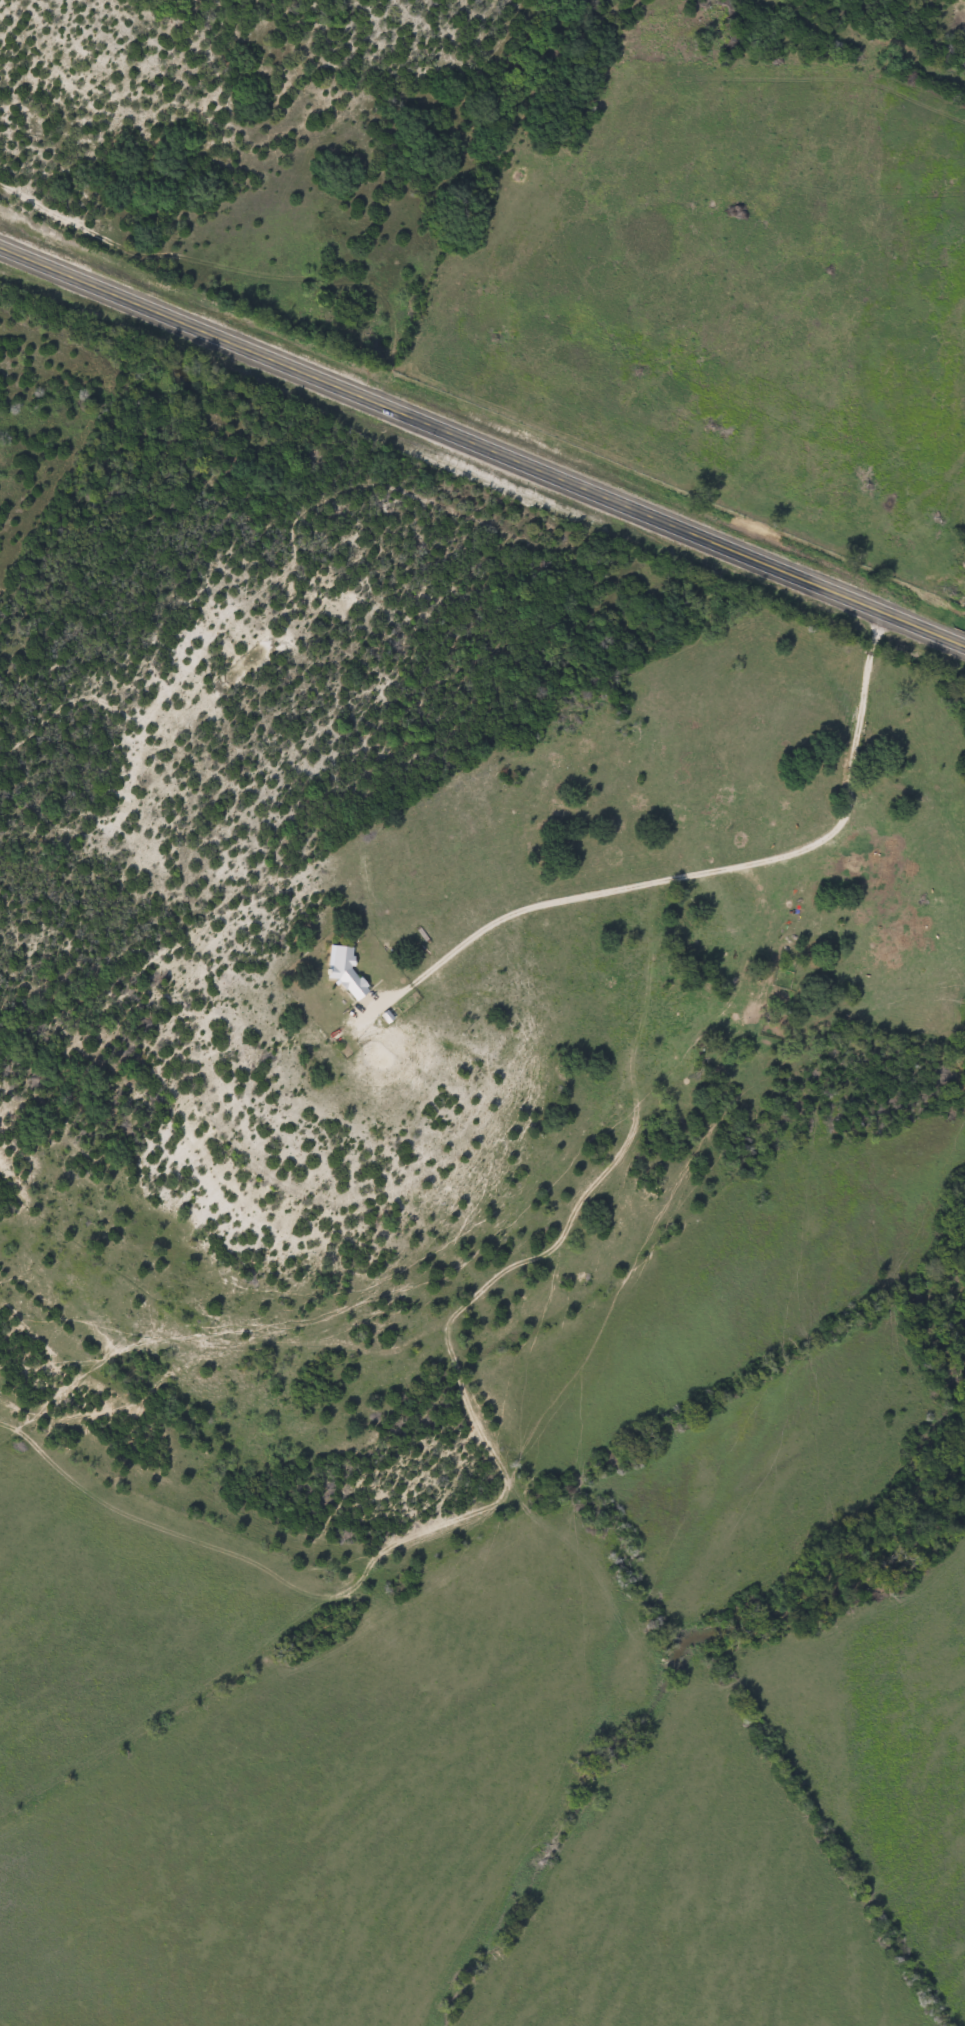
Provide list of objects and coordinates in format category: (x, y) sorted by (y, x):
road: (482, 442)
building: (345, 968)
road: (593, 1205)

